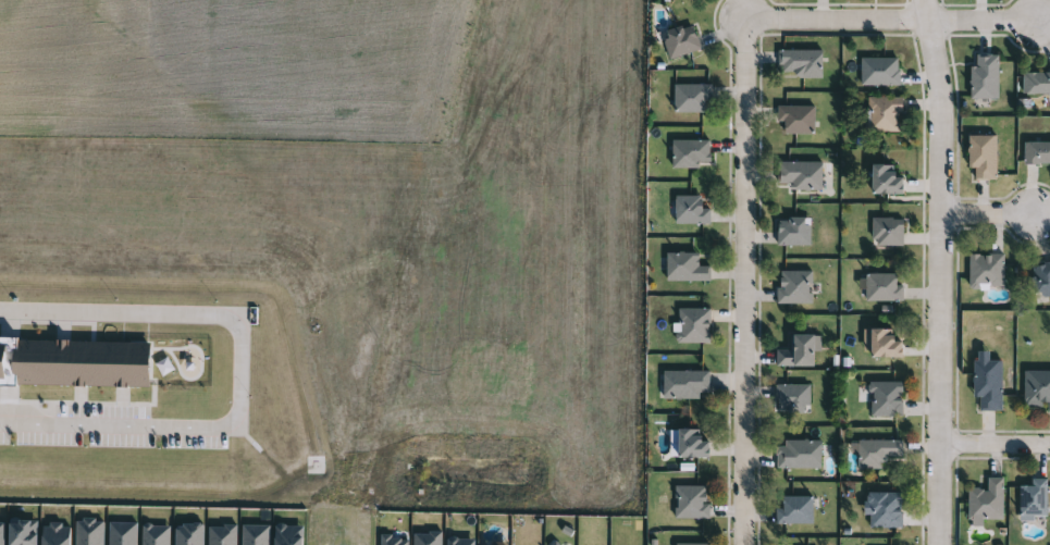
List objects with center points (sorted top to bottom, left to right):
road: (976, 16)
road: (829, 18)
building: (678, 41)
building: (799, 63)
building: (877, 71)
building: (983, 76)
building: (1035, 83)
building: (689, 97)
building: (881, 114)
building: (794, 120)
building: (1036, 153)
building: (688, 154)
building: (979, 157)
building: (798, 175)
building: (881, 181)
building: (688, 211)
road: (986, 213)
building: (791, 231)
building: (886, 232)
building: (683, 268)
building: (985, 270)
road: (943, 271)
building: (1040, 278)
road: (737, 282)
building: (793, 287)
building: (880, 288)
building: (692, 325)
building: (880, 345)
building: (794, 352)
road: (232, 369)
building: (984, 382)
building: (683, 384)
building: (1036, 391)
building: (790, 398)
building: (884, 399)
building: (684, 444)
road: (997, 446)
building: (875, 453)
building: (795, 456)
building: (1032, 499)
building: (690, 503)
building: (983, 503)
building: (882, 509)
building: (792, 510)
building: (690, 544)

